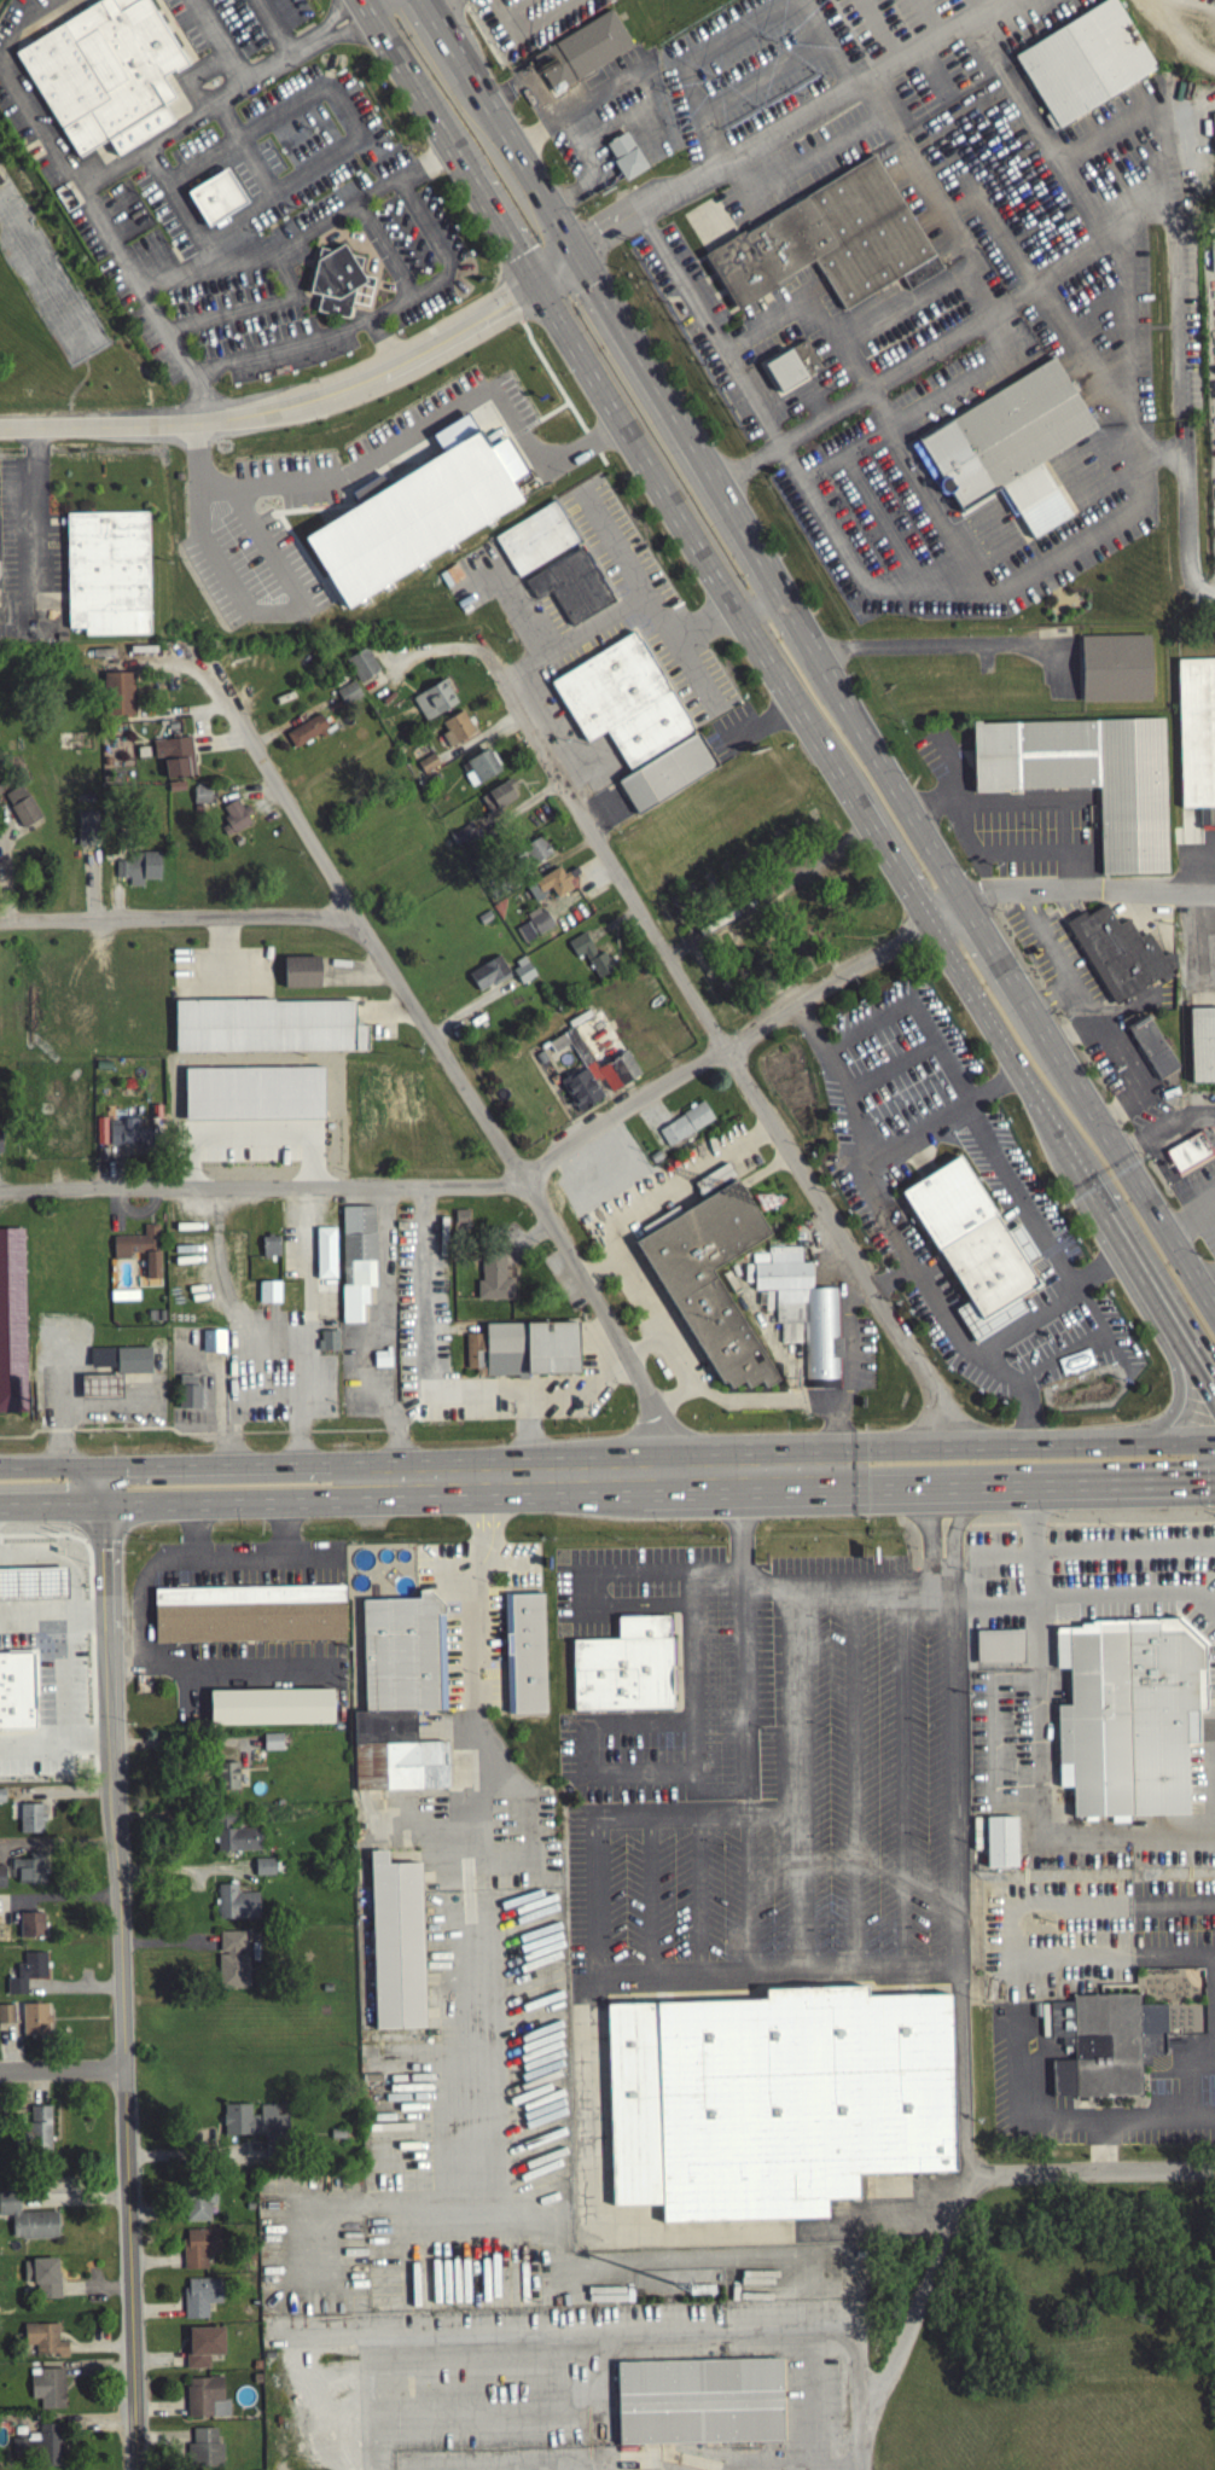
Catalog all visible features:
road: (428, 2)
building: (582, 48)
building: (1085, 59)
road: (260, 71)
building: (106, 72)
road: (601, 99)
road: (534, 107)
road: (690, 110)
road: (803, 117)
building: (1213, 133)
road: (162, 134)
road: (819, 150)
building: (627, 153)
parking lot: (1007, 155)
road: (586, 170)
road: (295, 180)
building: (217, 194)
road: (87, 197)
road: (942, 209)
road: (298, 237)
road: (588, 239)
building: (831, 239)
traffic signals: (576, 248)
building: (341, 279)
road: (679, 286)
traffic signals: (527, 292)
road: (911, 301)
road: (771, 322)
road: (1128, 325)
road: (308, 337)
parking lot: (719, 337)
road: (943, 341)
building: (792, 362)
road: (1095, 371)
road: (1181, 383)
road: (308, 401)
road: (920, 406)
road: (422, 424)
building: (1010, 443)
road: (929, 495)
building: (414, 517)
road: (27, 522)
road: (886, 525)
building: (536, 536)
building: (109, 570)
building: (574, 583)
road: (650, 598)
road: (973, 599)
road: (255, 609)
road: (731, 616)
road: (575, 638)
road: (824, 650)
road: (940, 651)
building: (1115, 664)
building: (361, 667)
building: (348, 696)
building: (117, 697)
building: (623, 698)
road: (787, 698)
building: (434, 703)
building: (455, 732)
building: (306, 734)
building: (1196, 743)
building: (174, 760)
building: (426, 767)
building: (478, 771)
building: (668, 771)
road: (960, 773)
building: (1088, 774)
building: (200, 798)
building: (498, 800)
road: (1025, 800)
building: (21, 809)
parking lot: (1004, 814)
building: (233, 821)
building: (86, 832)
building: (460, 837)
building: (534, 854)
road: (1007, 854)
building: (138, 871)
road: (1207, 872)
road: (1094, 885)
building: (551, 887)
road: (768, 891)
road: (173, 914)
building: (534, 928)
road: (1046, 935)
road: (1203, 949)
building: (1118, 951)
parking lot: (1056, 954)
building: (589, 958)
building: (300, 976)
building: (488, 977)
road: (1068, 983)
building: (268, 1024)
road: (720, 1038)
road: (752, 1038)
building: (1202, 1041)
building: (1153, 1044)
road: (1126, 1058)
road: (446, 1059)
parking lot: (1120, 1059)
building: (593, 1062)
building: (252, 1097)
road: (937, 1124)
road: (1168, 1126)
building: (685, 1127)
building: (126, 1133)
building: (0, 1147)
building: (1192, 1147)
road: (1004, 1173)
building: (714, 1184)
road: (262, 1186)
road: (1192, 1215)
road: (1209, 1216)
building: (460, 1225)
road: (891, 1236)
building: (975, 1245)
building: (269, 1250)
building: (140, 1253)
building: (327, 1257)
building: (357, 1257)
road: (599, 1267)
building: (710, 1277)
road: (894, 1279)
building: (493, 1282)
road: (1208, 1283)
road: (634, 1285)
building: (271, 1289)
building: (123, 1298)
road: (1051, 1306)
building: (806, 1313)
building: (12, 1320)
road: (306, 1325)
building: (329, 1338)
road: (645, 1344)
building: (213, 1346)
building: (523, 1353)
road: (848, 1353)
building: (384, 1355)
parking lot: (278, 1367)
building: (128, 1371)
road: (1178, 1382)
road: (440, 1389)
building: (190, 1390)
road: (674, 1394)
road: (524, 1436)
road: (990, 1442)
road: (227, 1465)
road: (51, 1468)
traffic signals: (101, 1468)
road: (560, 1471)
road: (990, 1483)
road: (101, 1484)
road: (1205, 1484)
road: (229, 1499)
road: (51, 1501)
traffic signals: (101, 1501)
road: (240, 1554)
road: (28, 1558)
building: (10, 1575)
gas station: (10, 1575)
road: (580, 1579)
road: (146, 1594)
road: (1069, 1599)
building: (251, 1612)
road: (53, 1615)
road: (798, 1625)
building: (10, 1637)
building: (527, 1650)
building: (998, 1650)
building: (405, 1652)
road: (473, 1652)
building: (626, 1664)
road: (744, 1664)
parking lot: (727, 1673)
road: (696, 1695)
building: (269, 1710)
building: (1130, 1718)
building: (272, 1745)
road: (586, 1748)
road: (903, 1774)
road: (854, 1776)
building: (226, 1780)
parking lot: (809, 1790)
road: (1214, 1790)
road: (1040, 1803)
building: (29, 1821)
building: (223, 1821)
building: (238, 1843)
building: (999, 1846)
building: (264, 1870)
building: (28, 1873)
building: (1, 1881)
road: (700, 1893)
road: (749, 1893)
road: (651, 1894)
building: (236, 1907)
building: (31, 1929)
road: (1010, 1930)
parking lot: (1095, 1933)
building: (395, 1947)
building: (232, 1963)
road: (757, 1970)
building: (27, 1976)
road: (121, 1984)
building: (6, 2018)
building: (34, 2023)
building: (1105, 2041)
parking lot: (1017, 2052)
road: (1207, 2058)
road: (62, 2070)
road: (1184, 2073)
building: (775, 2097)
road: (1057, 2117)
building: (252, 2126)
building: (37, 2133)
building: (197, 2205)
road: (953, 2209)
building: (27, 2222)
road: (768, 2230)
building: (198, 2251)
building: (42, 2280)
building: (200, 2301)
road: (415, 2341)
building: (43, 2343)
road: (809, 2343)
building: (203, 2349)
building: (47, 2391)
building: (202, 2399)
building: (698, 2406)
road: (370, 2442)
building: (39, 2449)
building: (204, 2452)

